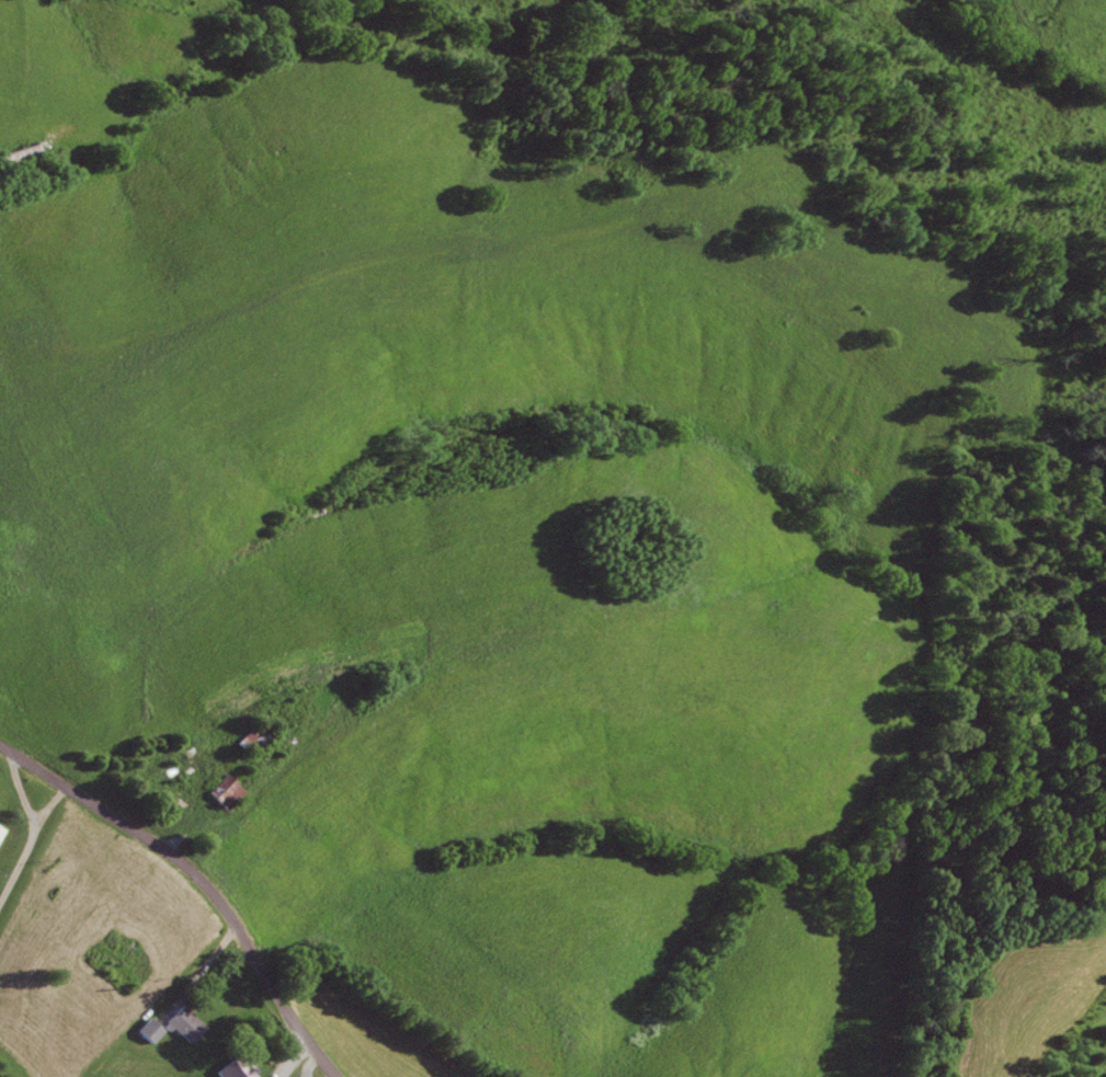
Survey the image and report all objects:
road: (25, 793)
road: (55, 809)
road: (21, 872)
road: (197, 881)
building: (181, 1023)
building: (147, 1030)
road: (307, 1063)
building: (230, 1069)

